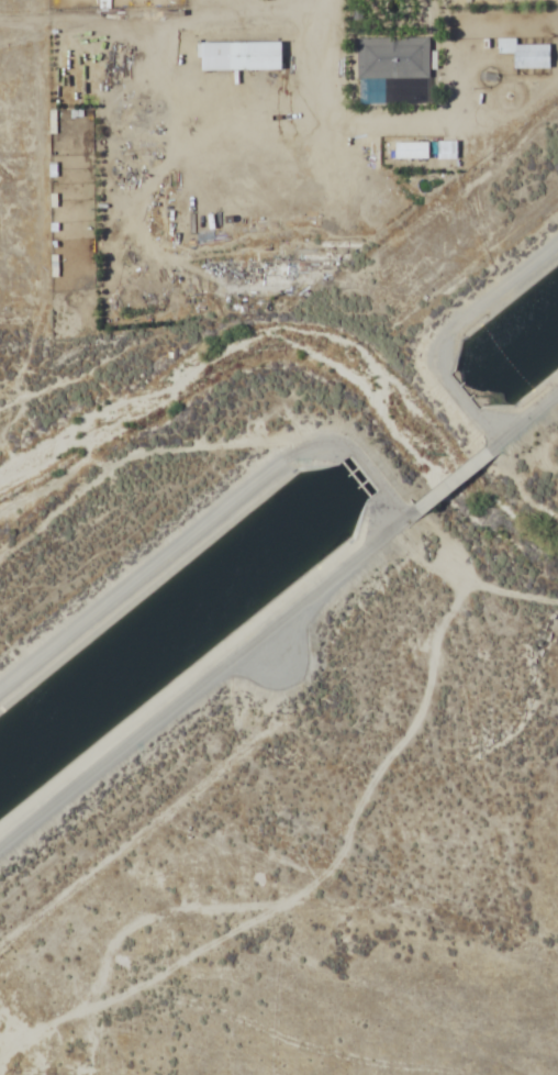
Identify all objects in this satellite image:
building: (77, 19)
building: (525, 55)
building: (392, 59)
road: (339, 62)
building: (87, 184)
building: (88, 288)
road: (450, 329)
road: (523, 422)
road: (453, 479)
road: (202, 519)
road: (208, 678)

